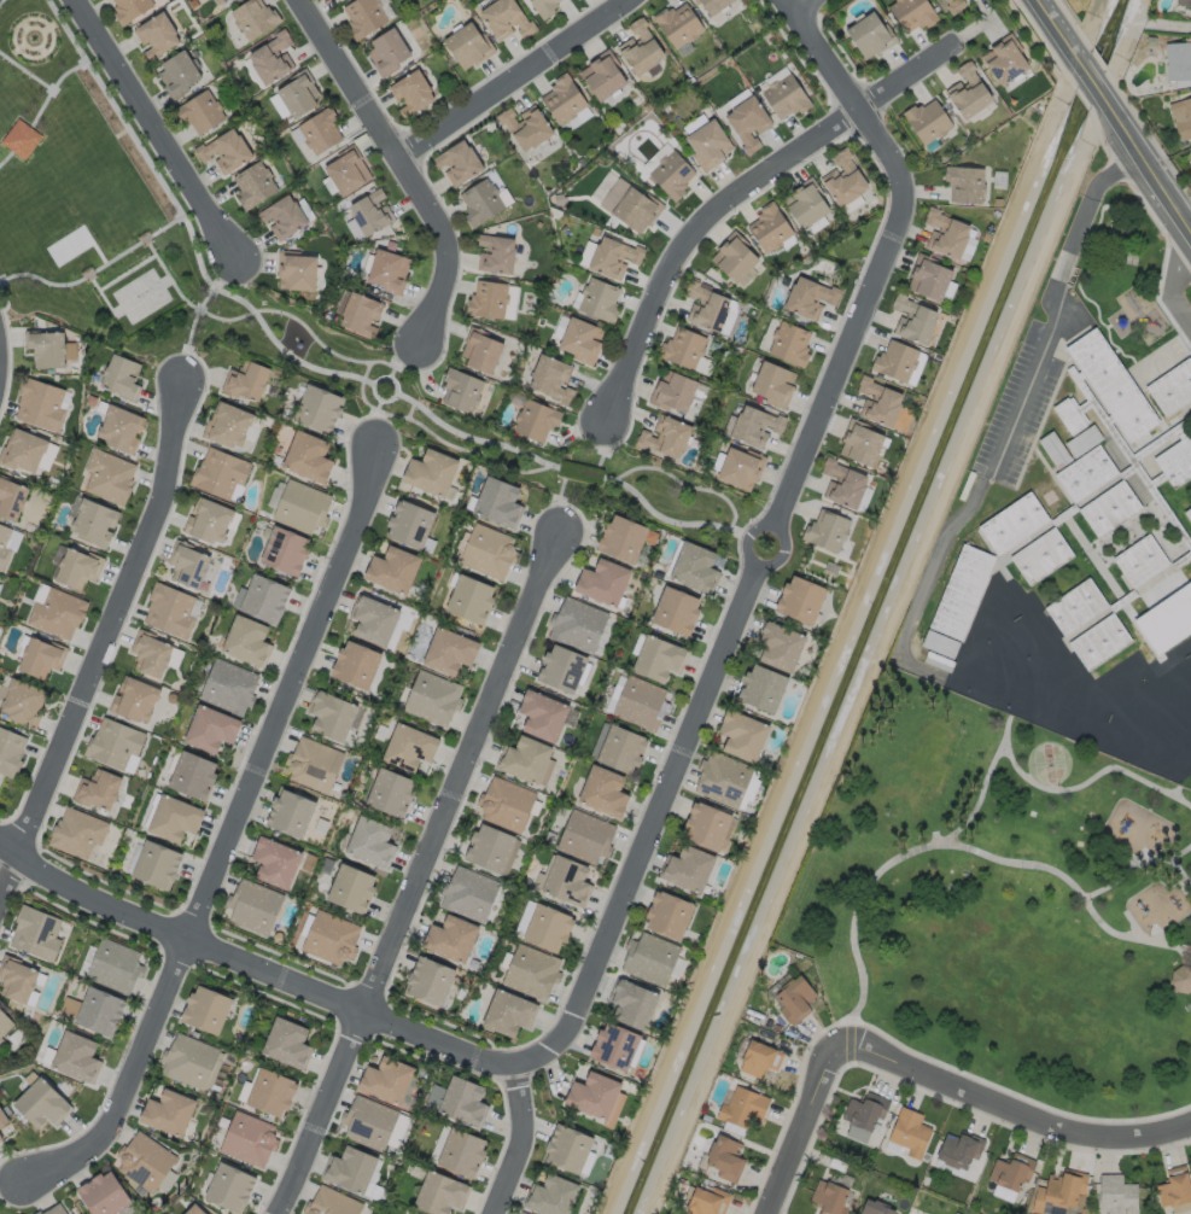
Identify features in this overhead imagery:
road: (0, 0)
building: (339, 0)
building: (222, 1)
building: (948, 1)
building: (1183, 2)
building: (710, 5)
building: (545, 7)
road: (808, 7)
building: (132, 10)
building: (500, 11)
building: (912, 13)
building: (251, 18)
building: (361, 18)
building: (677, 24)
road: (66, 30)
building: (463, 33)
building: (870, 35)
building: (154, 36)
building: (638, 48)
building: (385, 53)
building: (270, 58)
building: (1006, 60)
building: (1177, 60)
building: (176, 64)
building: (600, 68)
road: (24, 71)
building: (409, 82)
road: (515, 84)
road: (51, 87)
building: (292, 87)
building: (560, 92)
building: (970, 94)
road: (851, 97)
building: (783, 98)
building: (197, 103)
road: (1116, 115)
building: (1181, 117)
building: (929, 119)
building: (529, 121)
building: (314, 122)
building: (746, 123)
road: (156, 134)
building: (21, 139)
road: (21, 139)
building: (224, 140)
building: (706, 145)
building: (456, 152)
road: (6, 156)
building: (343, 162)
road: (397, 163)
building: (249, 174)
building: (670, 175)
building: (842, 177)
building: (963, 183)
building: (477, 191)
park: (86, 194)
building: (805, 200)
road: (734, 202)
building: (367, 203)
building: (285, 204)
building: (635, 210)
building: (767, 226)
building: (950, 237)
building: (496, 243)
building: (612, 255)
building: (732, 255)
building: (296, 258)
building: (381, 258)
road: (160, 262)
road: (97, 269)
road: (127, 272)
park: (1123, 276)
building: (930, 281)
road: (1169, 286)
building: (483, 287)
building: (591, 287)
park: (141, 294)
building: (808, 296)
road: (103, 299)
building: (355, 300)
road: (1051, 300)
building: (705, 304)
building: (916, 322)
building: (573, 326)
building: (480, 342)
building: (788, 342)
building: (682, 346)
building: (53, 349)
building: (899, 361)
building: (545, 364)
building: (116, 366)
building: (245, 369)
building: (455, 379)
building: (772, 383)
building: (1114, 384)
building: (671, 390)
building: (1174, 391)
building: (315, 396)
building: (40, 401)
building: (881, 405)
building: (533, 409)
building: (228, 414)
building: (117, 416)
building: (1072, 418)
building: (754, 424)
building: (664, 434)
building: (1082, 440)
building: (306, 445)
building: (863, 445)
building: (24, 449)
building: (1053, 449)
building: (430, 461)
building: (215, 462)
building: (1177, 463)
building: (738, 466)
building: (103, 467)
building: (1087, 474)
building: (845, 486)
building: (494, 489)
building: (296, 495)
building: (13, 501)
building: (209, 509)
building: (88, 510)
building: (1111, 510)
building: (407, 512)
building: (1189, 515)
building: (1016, 525)
building: (829, 531)
building: (623, 536)
building: (281, 538)
building: (483, 539)
building: (5, 541)
building: (194, 554)
building: (70, 556)
building: (389, 558)
building: (1043, 558)
building: (1144, 562)
building: (693, 567)
building: (599, 571)
building: (261, 585)
building: (466, 586)
building: (961, 591)
building: (1167, 599)
building: (49, 600)
building: (167, 600)
building: (801, 600)
building: (1078, 608)
building: (372, 609)
building: (673, 609)
building: (574, 614)
building: (243, 630)
building: (444, 641)
road: (103, 643)
road: (725, 643)
building: (939, 643)
building: (1103, 643)
building: (152, 644)
building: (776, 646)
building: (35, 647)
building: (355, 654)
building: (560, 658)
building: (656, 658)
building: (223, 676)
building: (18, 687)
building: (134, 687)
building: (426, 687)
building: (764, 689)
building: (640, 702)
building: (538, 706)
building: (327, 707)
building: (206, 716)
building: (111, 734)
building: (743, 734)
building: (403, 736)
building: (7, 740)
building: (618, 747)
building: (522, 749)
building: (308, 753)
park: (1049, 761)
building: (189, 764)
building: (724, 780)
building: (98, 781)
building: (386, 781)
road: (1093, 781)
building: (599, 782)
building: (502, 792)
building: (290, 800)
building: (171, 809)
building: (315, 815)
building: (75, 824)
building: (578, 825)
building: (707, 827)
building: (366, 829)
road: (226, 837)
building: (488, 837)
building: (273, 850)
building: (154, 851)
road: (1183, 852)
road: (889, 866)
building: (688, 868)
building: (561, 870)
road: (425, 874)
road: (1143, 874)
building: (348, 875)
building: (463, 883)
road: (1076, 889)
building: (250, 895)
park: (1005, 903)
building: (669, 915)
building: (543, 918)
building: (446, 926)
building: (325, 927)
building: (37, 933)
road: (1189, 955)
building: (650, 958)
building: (525, 962)
building: (115, 964)
building: (427, 969)
road: (252, 970)
building: (17, 979)
building: (1183, 980)
building: (793, 998)
building: (502, 1000)
building: (632, 1006)
building: (206, 1008)
building: (100, 1010)
building: (5, 1021)
building: (287, 1041)
building: (1, 1043)
building: (615, 1046)
building: (77, 1056)
building: (758, 1058)
building: (193, 1061)
building: (386, 1080)
building: (273, 1093)
building: (592, 1096)
building: (463, 1102)
building: (43, 1104)
building: (741, 1107)
road: (1011, 1107)
building: (864, 1110)
building: (168, 1113)
building: (369, 1123)
building: (5, 1127)
road: (810, 1128)
building: (909, 1132)
building: (250, 1139)
road: (519, 1140)
building: (567, 1148)
building: (958, 1149)
building: (462, 1152)
building: (724, 1157)
building: (145, 1161)
building: (351, 1169)
building: (1010, 1171)
building: (229, 1186)
building: (1173, 1187)
building: (1058, 1190)
building: (440, 1193)
building: (106, 1195)
building: (553, 1195)
building: (1116, 1195)
building: (828, 1197)
building: (706, 1201)
building: (333, 1202)
building: (876, 1208)
building: (56, 1209)
building: (194, 1210)
building: (405, 1213)
building: (522, 1213)

